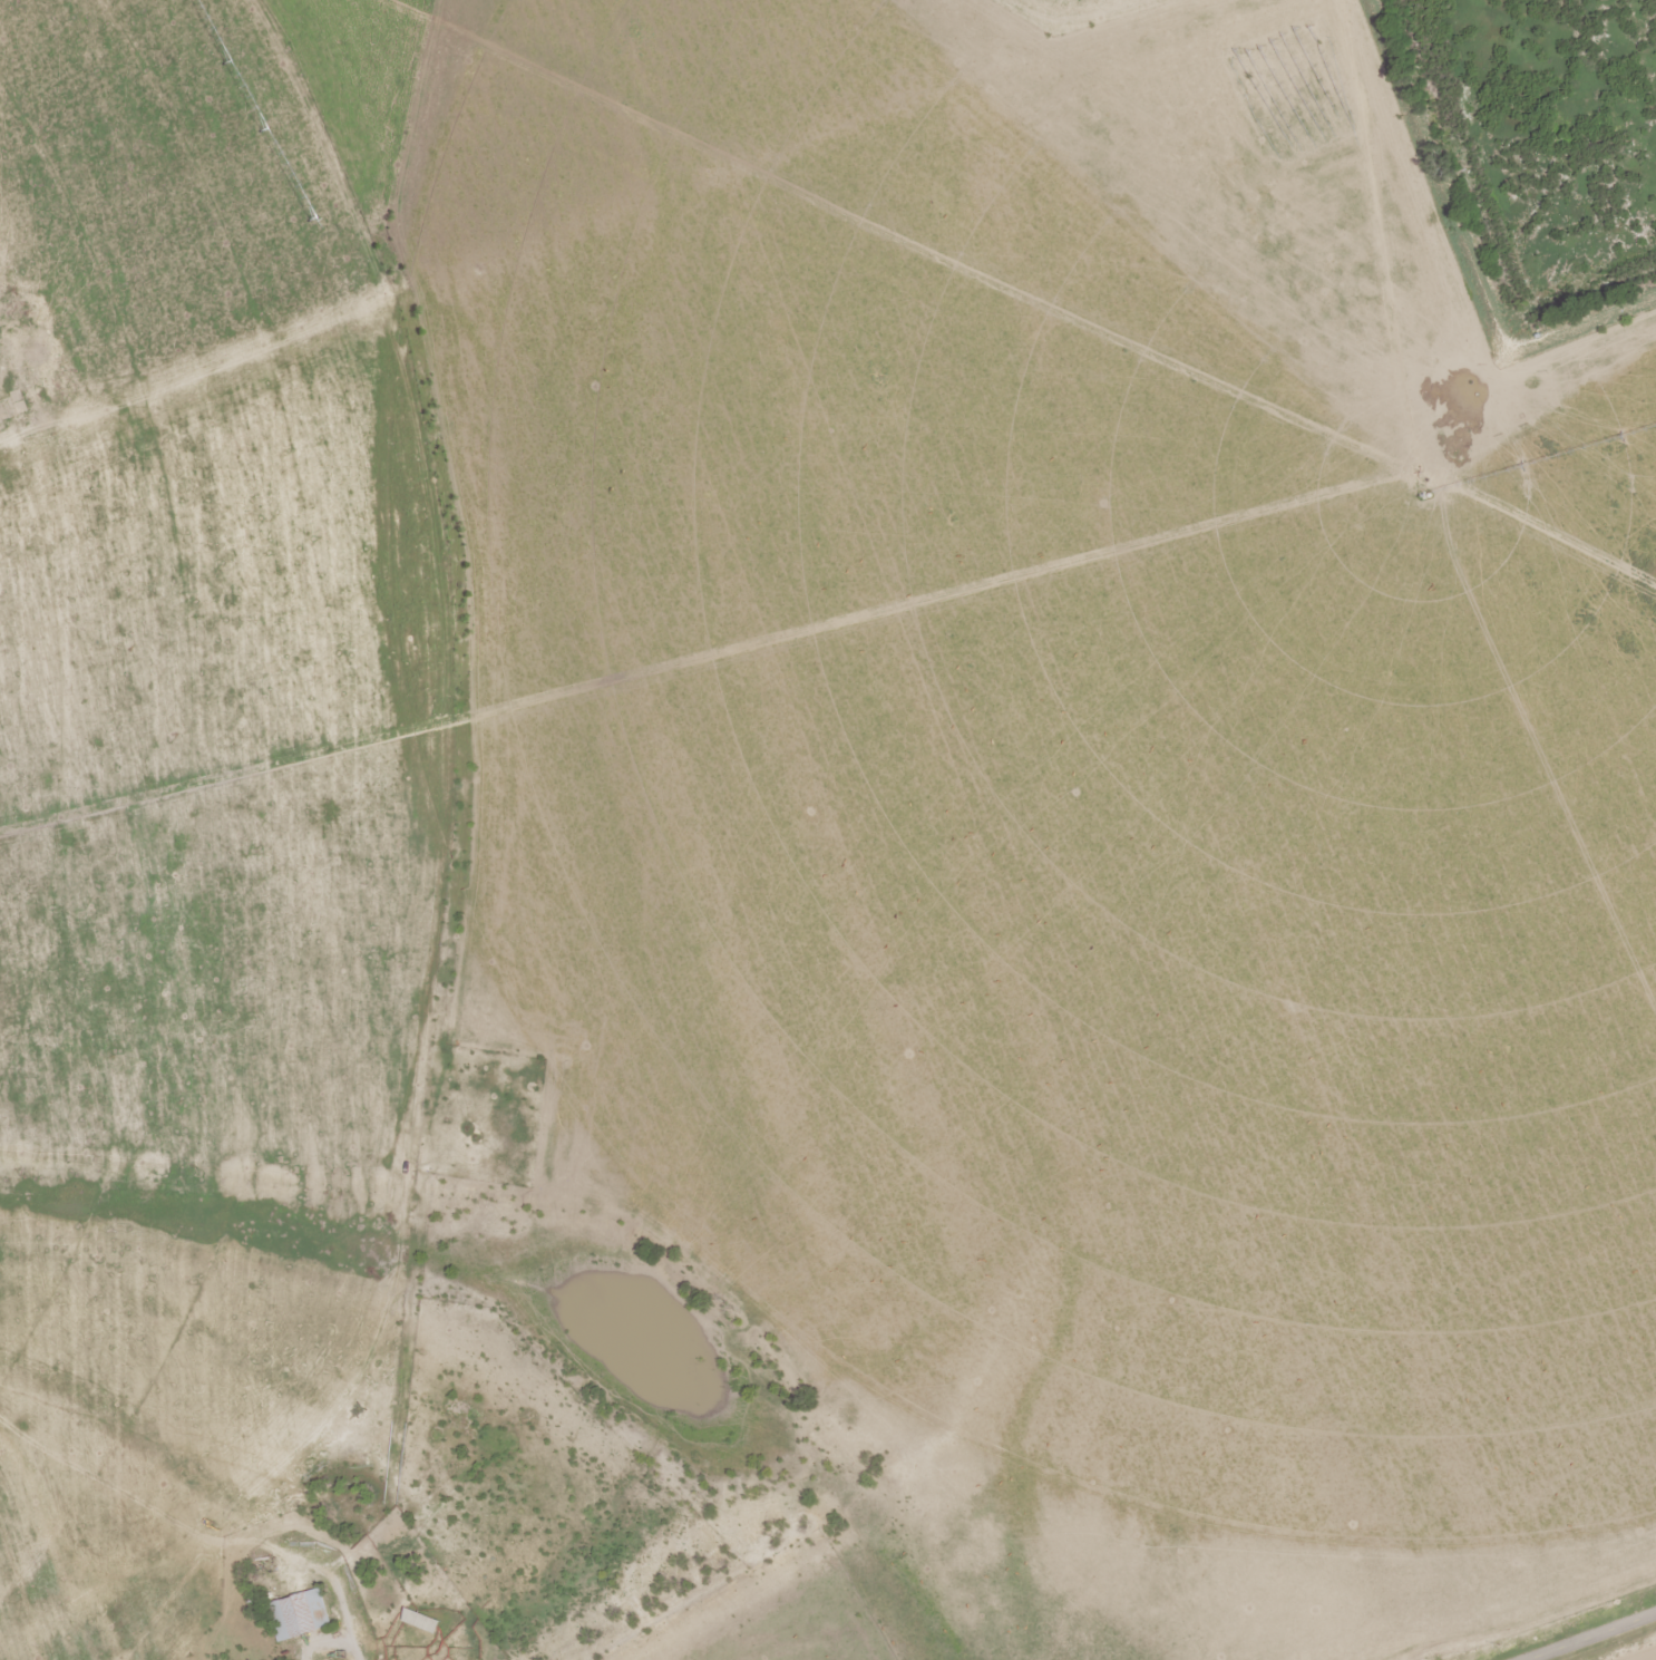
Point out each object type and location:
building: (299, 1615)
building: (422, 1621)
road: (1586, 1634)

